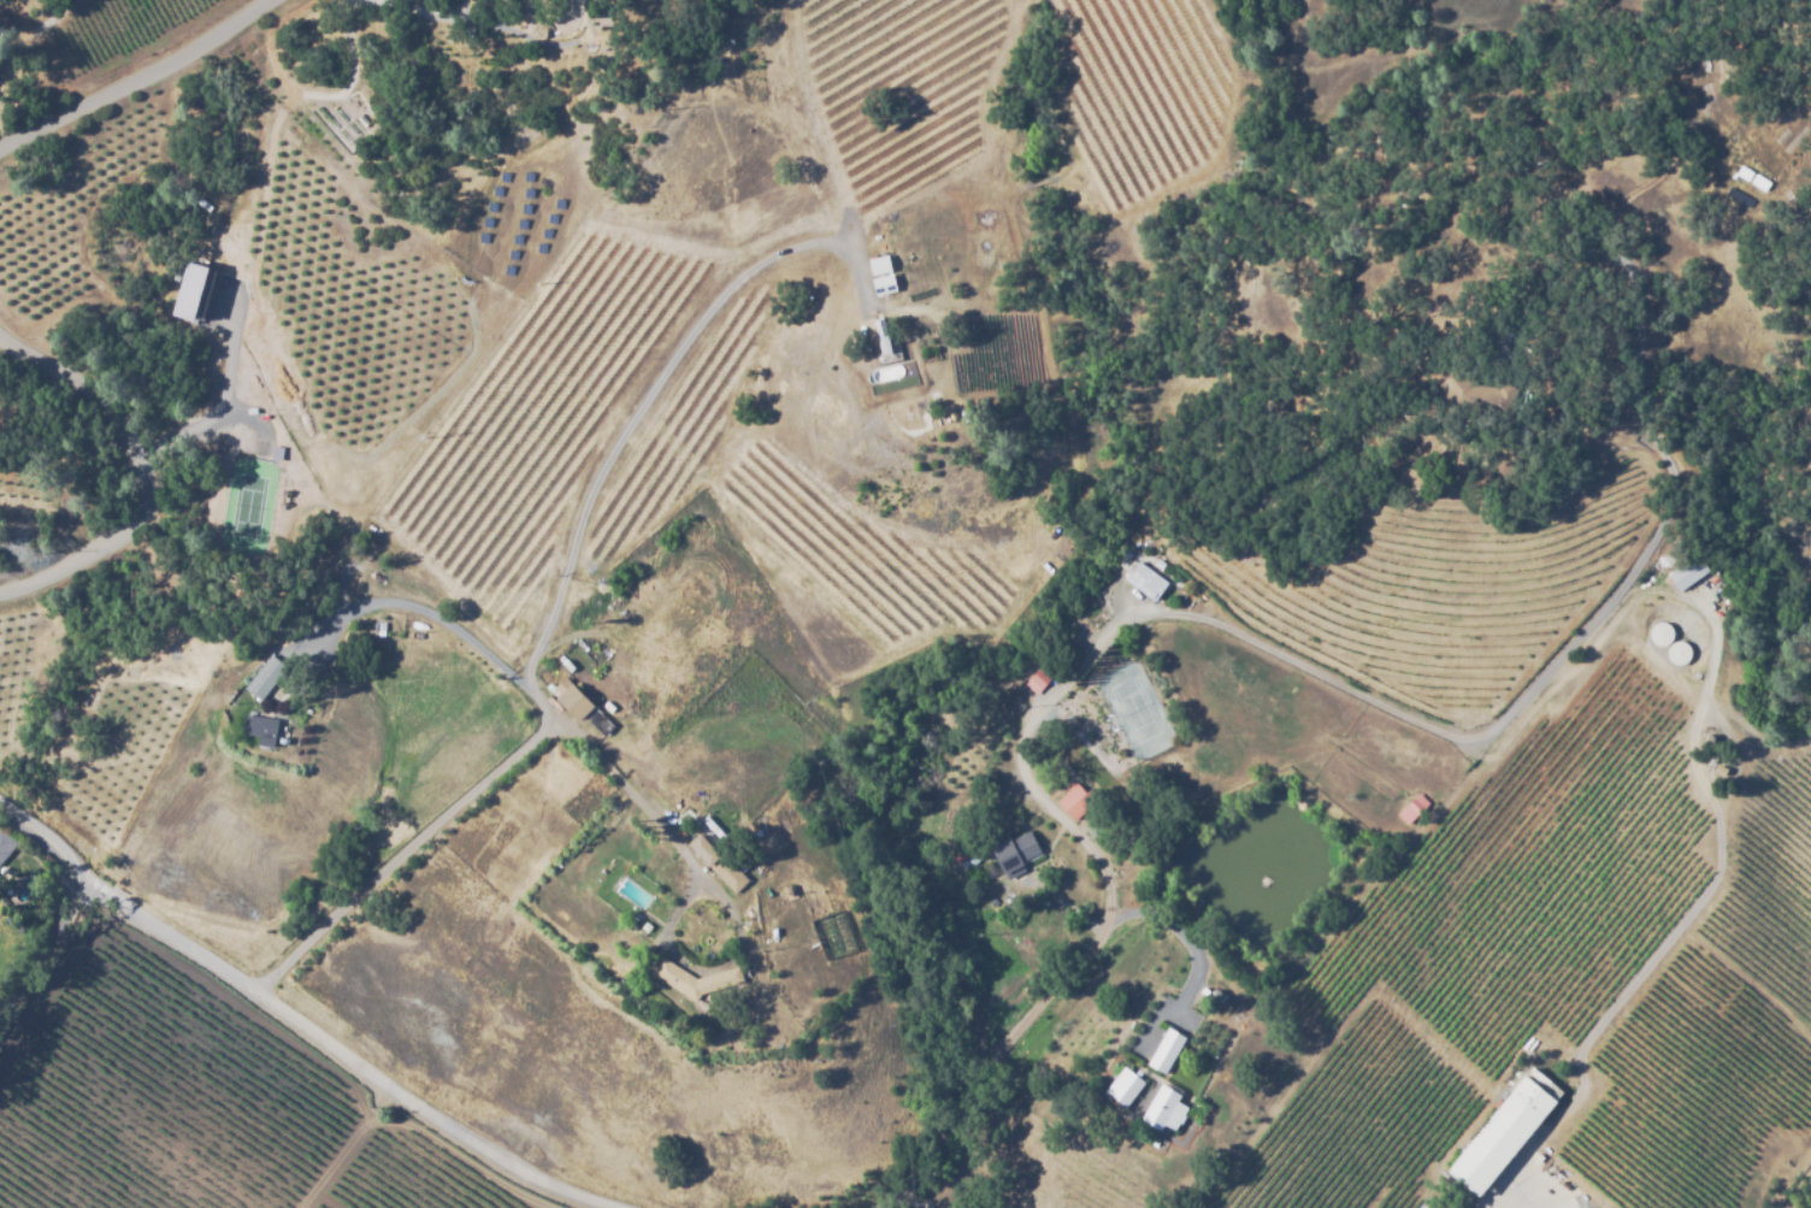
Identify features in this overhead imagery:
road: (132, 77)
building: (883, 275)
building: (197, 294)
building: (881, 338)
building: (1481, 396)
road: (648, 400)
road: (134, 470)
building: (1685, 571)
building: (1146, 581)
building: (1656, 631)
building: (1674, 650)
building: (265, 677)
building: (1040, 678)
road: (524, 688)
building: (580, 706)
building: (260, 726)
road: (1019, 762)
building: (1164, 780)
building: (1078, 801)
building: (1414, 808)
building: (5, 844)
building: (704, 849)
building: (1015, 853)
road: (406, 855)
building: (1046, 870)
building: (730, 873)
road: (1187, 939)
road: (42, 942)
road: (55, 978)
building: (696, 979)
road: (296, 1018)
building: (1174, 1050)
road: (996, 1057)
building: (1127, 1089)
building: (1172, 1110)
building: (1505, 1135)
road: (878, 1202)

